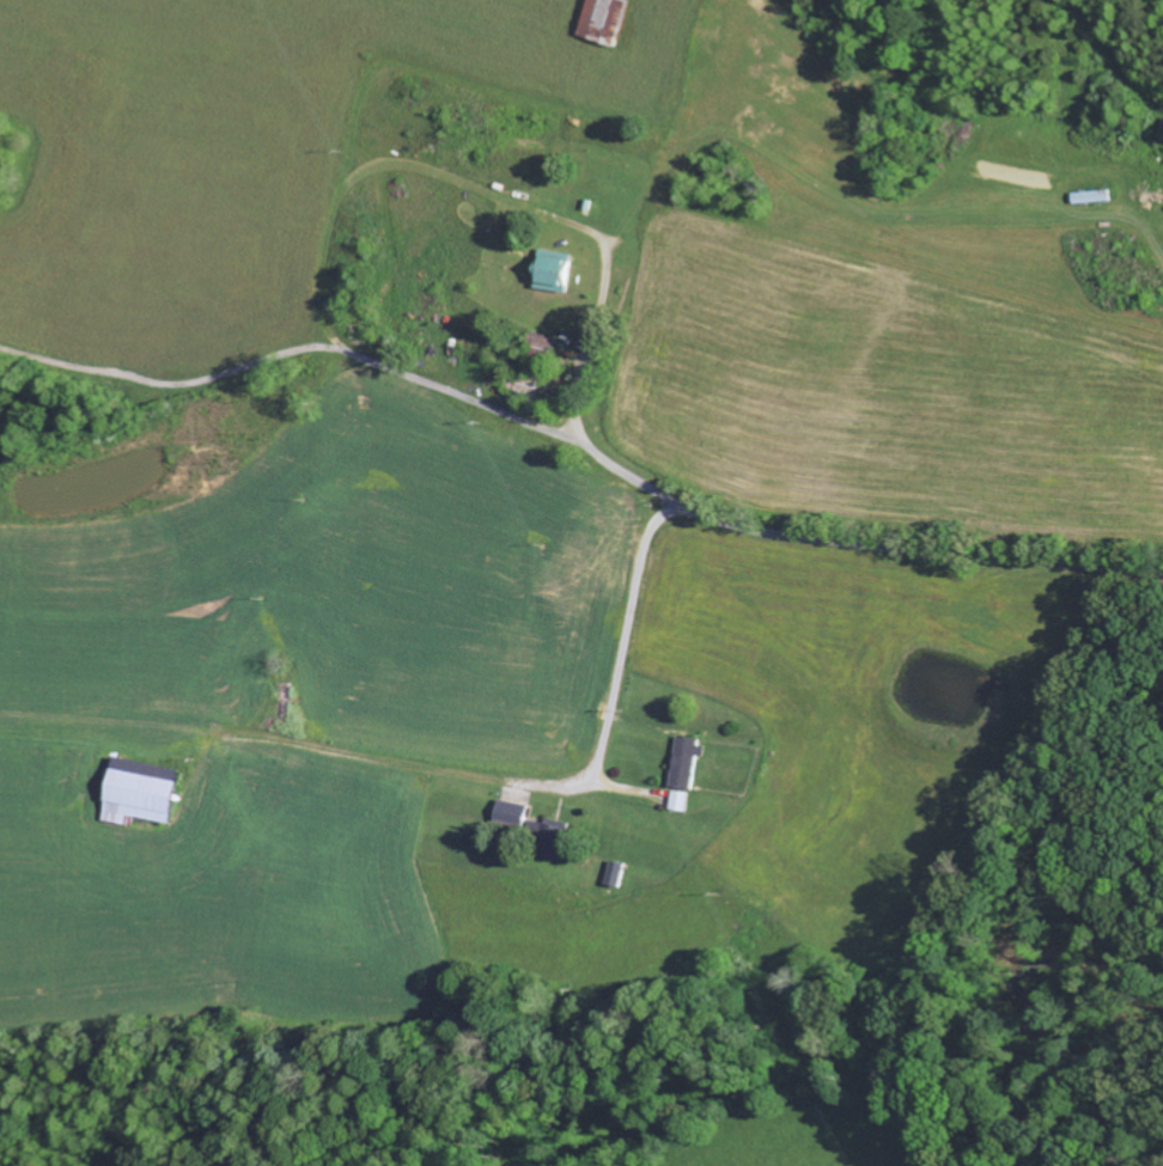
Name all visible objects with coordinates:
building: (599, 20)
road: (530, 188)
building: (550, 270)
road: (905, 548)
building: (690, 762)
road: (439, 767)
building: (147, 792)
building: (684, 800)
building: (516, 812)
building: (562, 840)
building: (622, 873)

